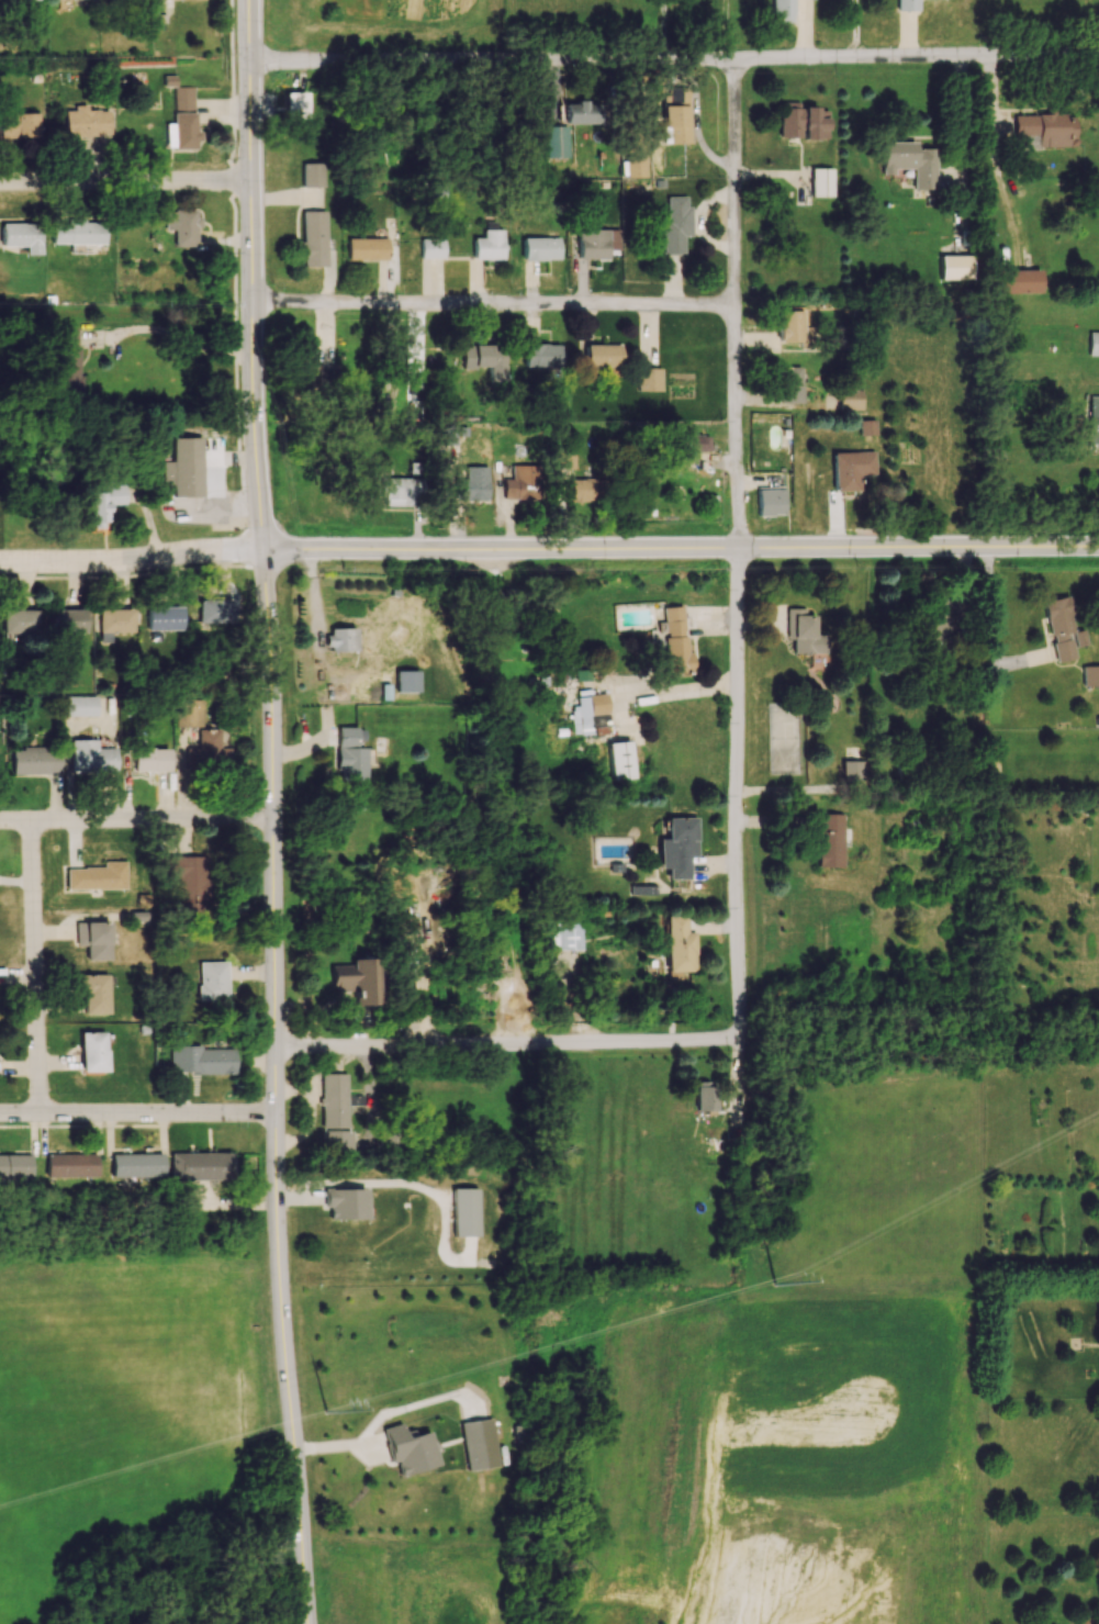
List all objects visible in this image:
building: (8, 0)
road: (663, 4)
building: (907, 4)
building: (782, 10)
road: (857, 30)
road: (729, 31)
road: (663, 32)
road: (674, 56)
building: (294, 105)
building: (582, 112)
building: (676, 114)
road: (960, 115)
building: (183, 119)
building: (801, 121)
building: (86, 122)
building: (18, 125)
building: (1044, 131)
building: (557, 141)
building: (909, 161)
building: (636, 167)
building: (312, 175)
road: (125, 180)
building: (821, 181)
building: (675, 225)
building: (183, 227)
building: (77, 232)
building: (20, 236)
building: (313, 238)
building: (593, 244)
building: (489, 245)
building: (368, 248)
building: (433, 248)
building: (540, 248)
building: (953, 267)
road: (250, 275)
building: (1017, 281)
road: (493, 303)
road: (736, 305)
building: (790, 325)
road: (176, 333)
building: (1094, 343)
building: (541, 355)
building: (601, 355)
building: (485, 359)
building: (67, 360)
building: (306, 368)
building: (648, 379)
building: (789, 384)
building: (852, 399)
building: (1092, 419)
building: (867, 427)
building: (691, 445)
building: (564, 457)
building: (186, 467)
building: (851, 469)
building: (470, 482)
building: (524, 482)
building: (586, 489)
building: (403, 491)
building: (101, 502)
building: (771, 502)
road: (917, 547)
road: (497, 549)
road: (131, 561)
building: (164, 617)
building: (19, 620)
building: (114, 621)
building: (67, 623)
building: (1063, 629)
building: (805, 632)
building: (938, 635)
building: (340, 639)
building: (675, 640)
building: (1090, 675)
building: (406, 681)
road: (668, 693)
building: (79, 705)
building: (188, 713)
building: (590, 715)
building: (208, 752)
building: (348, 755)
building: (90, 757)
building: (34, 760)
building: (150, 760)
building: (620, 760)
building: (852, 771)
road: (736, 796)
road: (137, 818)
road: (273, 830)
building: (830, 840)
building: (677, 847)
building: (97, 876)
building: (187, 881)
building: (565, 936)
building: (93, 939)
building: (679, 944)
road: (33, 966)
building: (356, 979)
building: (211, 981)
building: (93, 994)
road: (506, 1043)
building: (92, 1051)
building: (199, 1060)
building: (706, 1095)
building: (333, 1099)
road: (137, 1112)
building: (336, 1141)
building: (135, 1164)
building: (14, 1165)
building: (70, 1165)
building: (199, 1165)
building: (346, 1202)
building: (466, 1211)
power tower: (775, 1285)
road: (284, 1368)
power tower: (324, 1413)
road: (794, 1429)
building: (479, 1444)
building: (408, 1449)
road: (722, 1455)

